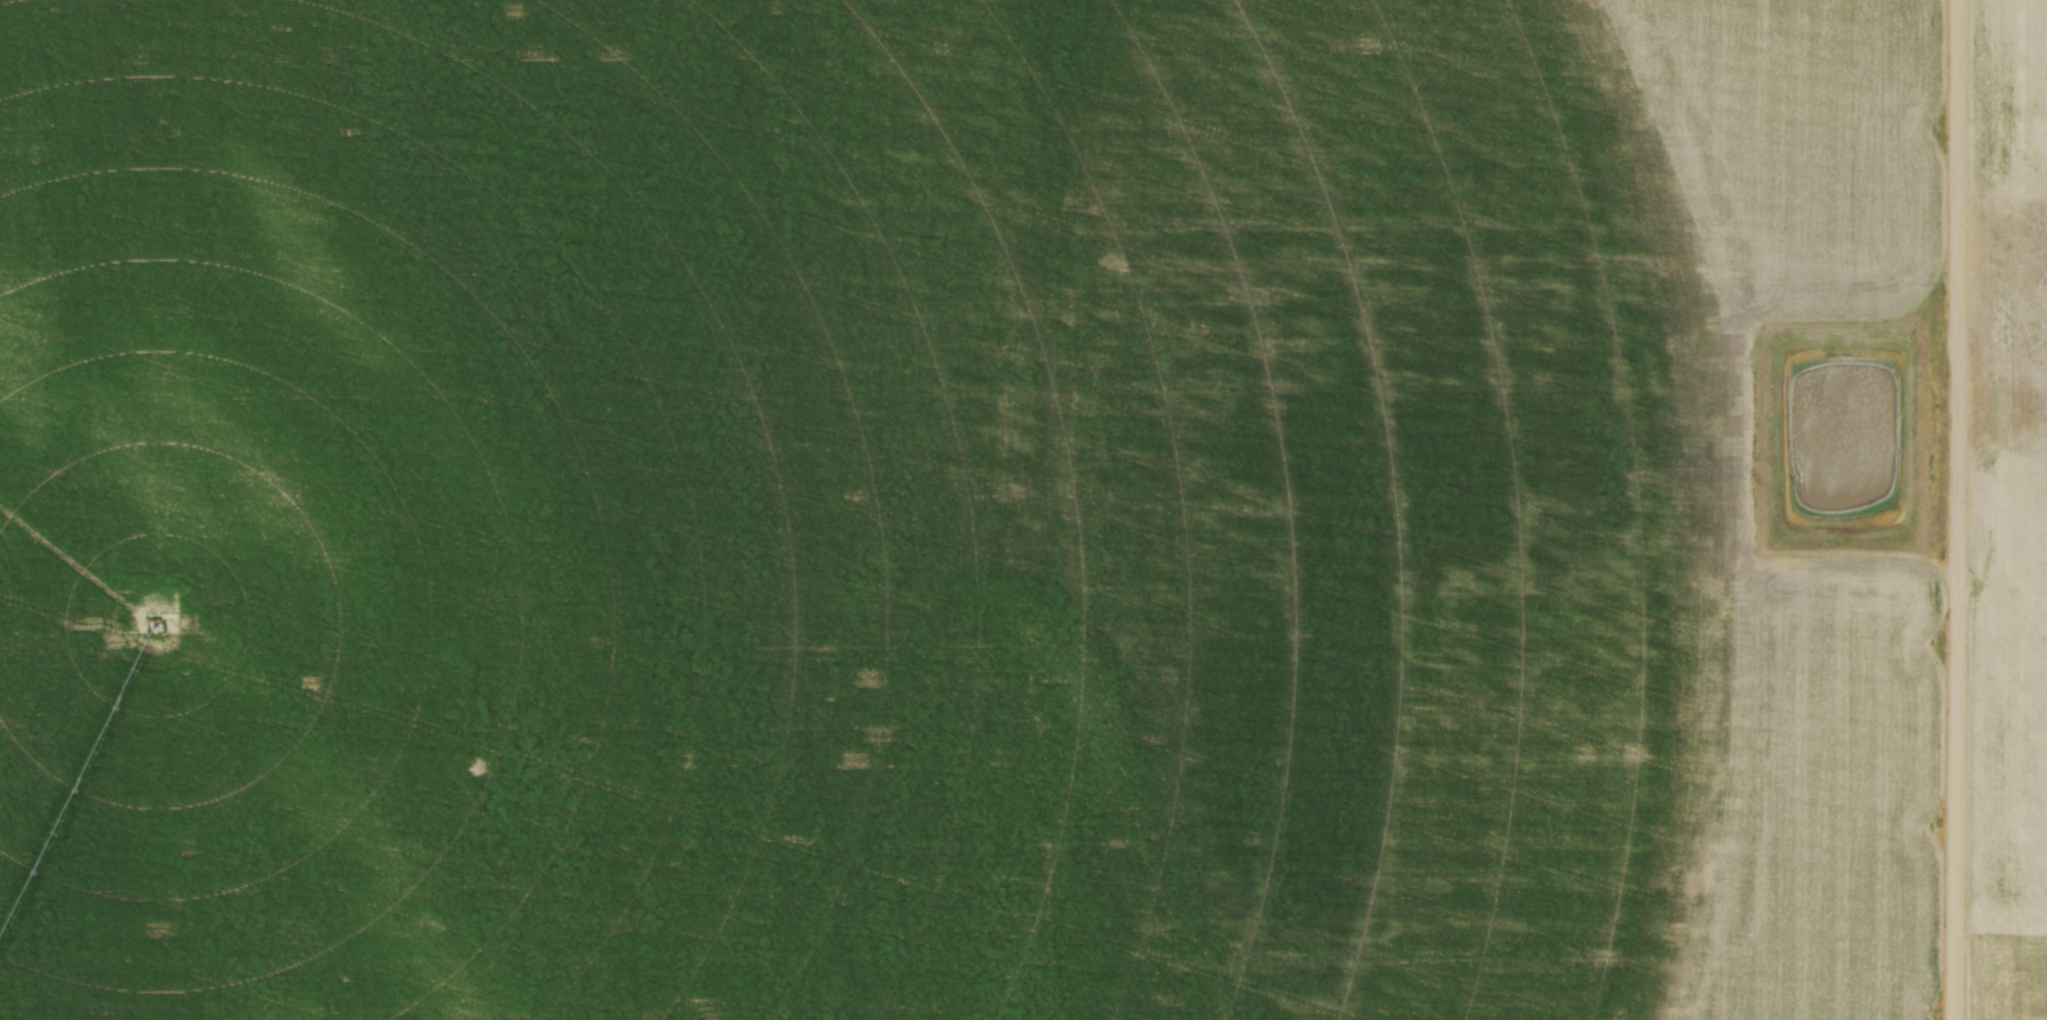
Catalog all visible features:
road: (1958, 510)
crop: (946, 511)
crop: (2010, 518)

